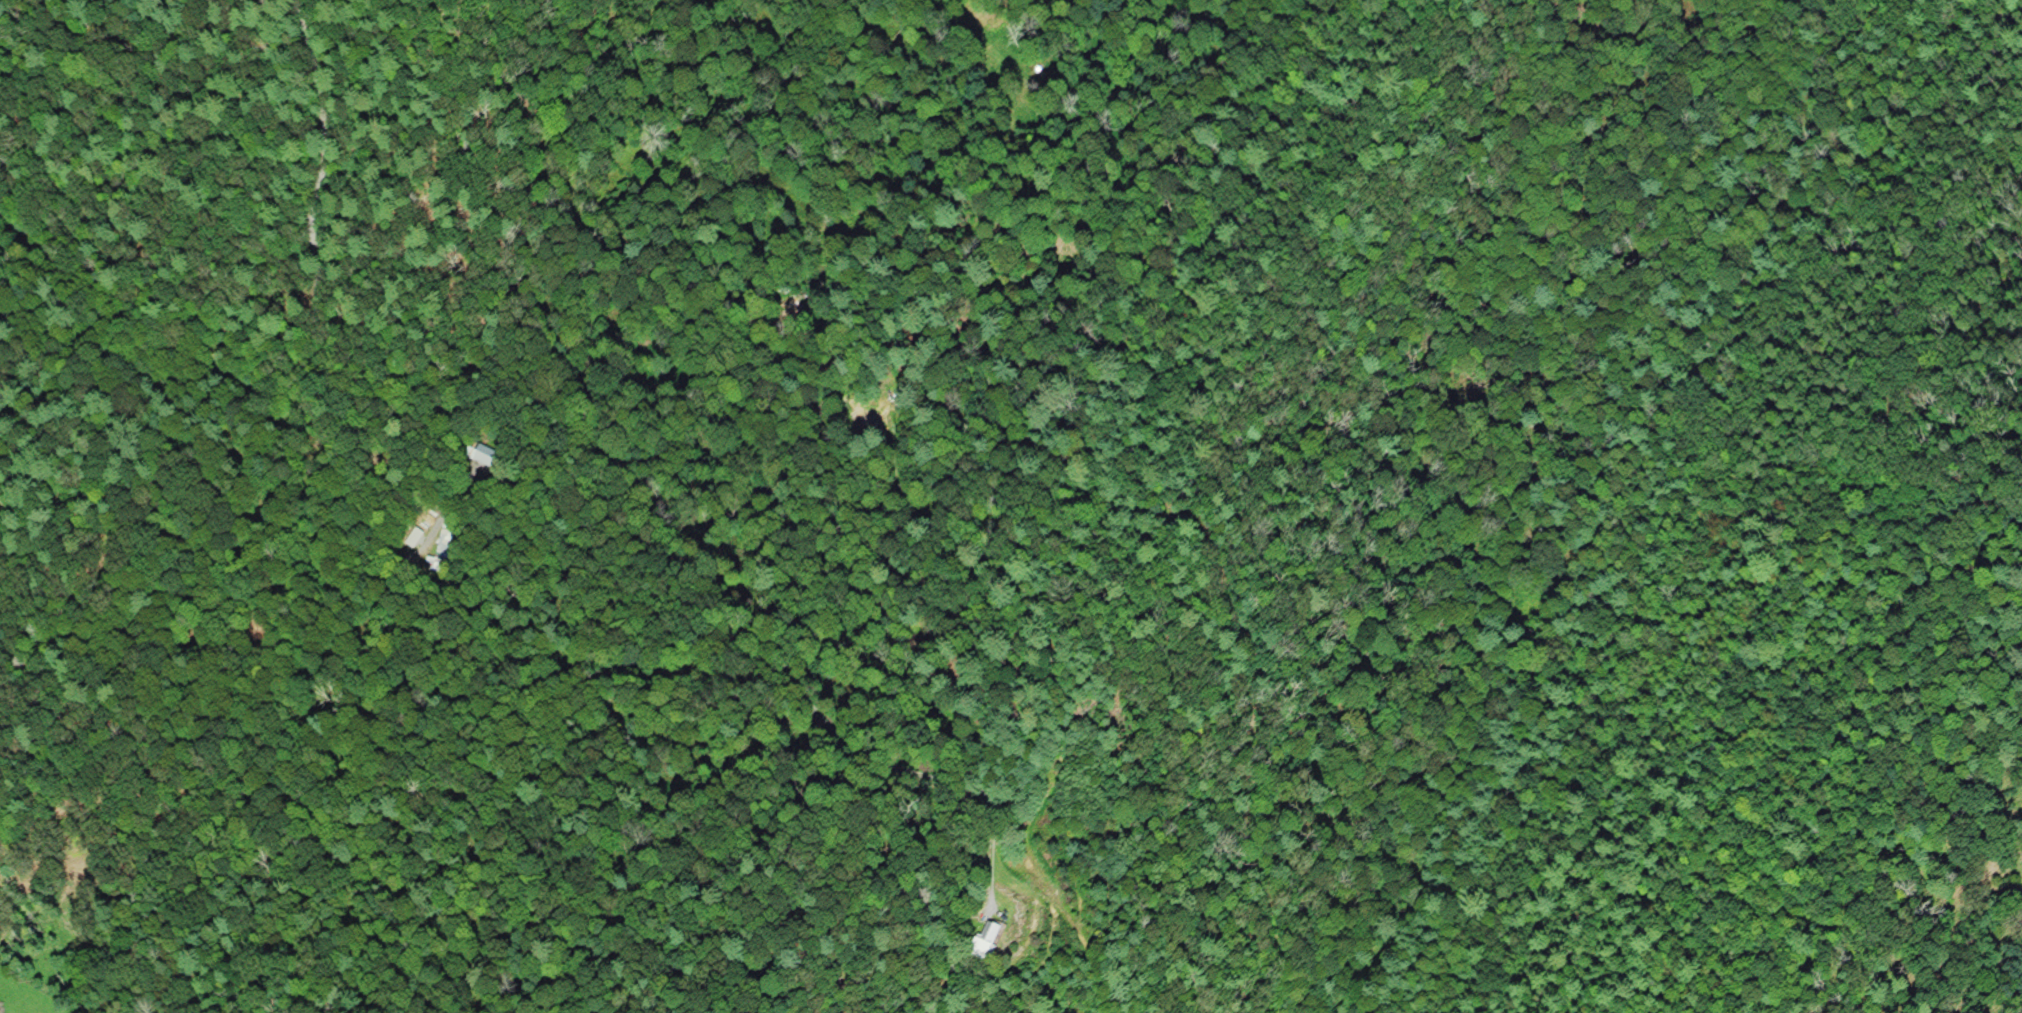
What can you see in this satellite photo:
building: (486, 454)
road: (414, 533)
building: (445, 544)
building: (991, 944)

